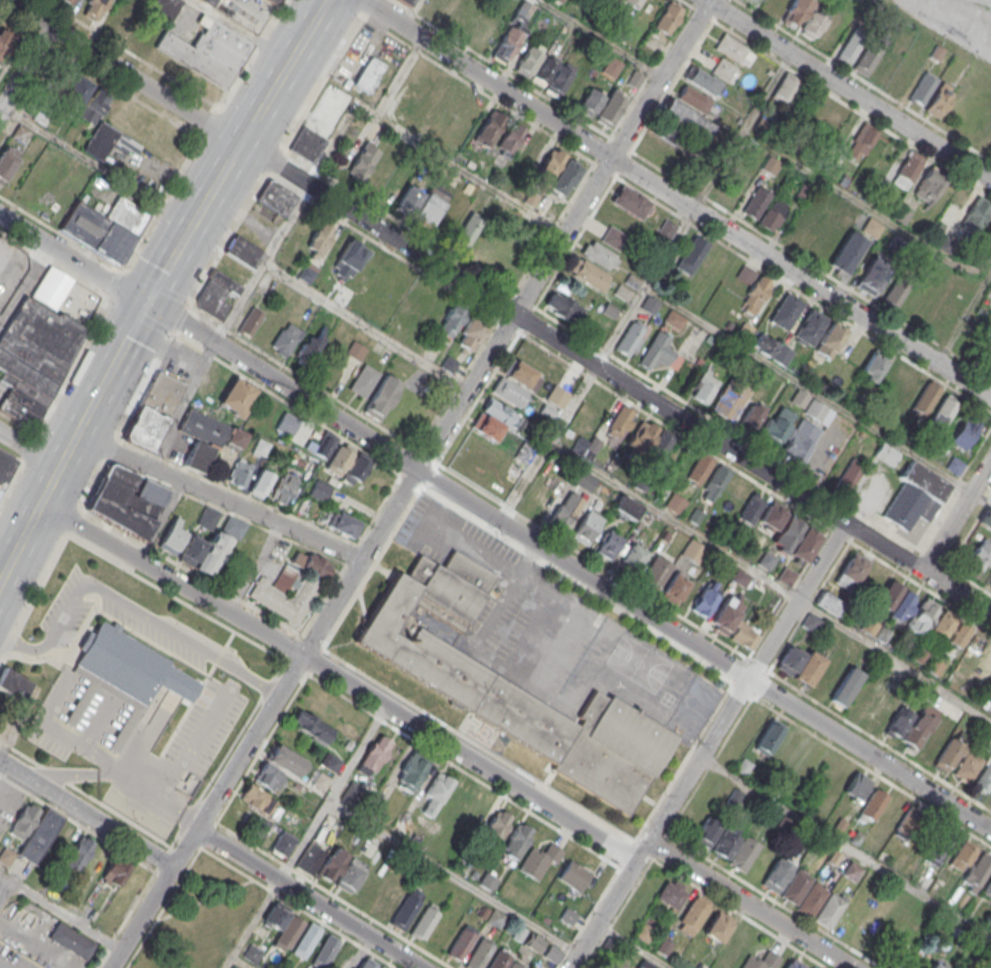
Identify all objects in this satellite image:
building: (210, 1)
building: (275, 1)
building: (613, 1)
building: (69, 2)
building: (405, 2)
building: (756, 2)
building: (632, 3)
building: (434, 6)
road: (367, 7)
building: (94, 9)
building: (165, 9)
building: (796, 12)
road: (410, 13)
building: (465, 15)
building: (667, 17)
building: (123, 19)
building: (813, 23)
road: (948, 26)
road: (242, 29)
building: (513, 31)
road: (599, 38)
building: (4, 41)
building: (851, 44)
building: (734, 50)
building: (208, 51)
building: (879, 58)
building: (528, 59)
building: (611, 66)
road: (25, 68)
building: (723, 68)
road: (283, 71)
road: (123, 72)
building: (368, 75)
building: (551, 76)
building: (703, 80)
building: (923, 87)
building: (787, 88)
road: (848, 89)
building: (74, 95)
building: (694, 98)
building: (410, 99)
building: (940, 99)
building: (589, 102)
building: (94, 105)
building: (610, 108)
building: (441, 111)
building: (687, 118)
building: (488, 129)
building: (19, 134)
building: (508, 140)
building: (107, 141)
building: (861, 141)
building: (307, 144)
road: (434, 151)
building: (7, 161)
road: (97, 165)
building: (548, 167)
building: (369, 168)
building: (908, 169)
building: (564, 177)
building: (931, 182)
building: (736, 185)
road: (676, 198)
building: (408, 199)
building: (273, 200)
building: (631, 202)
building: (756, 202)
building: (431, 204)
building: (976, 214)
building: (771, 215)
road: (193, 222)
building: (105, 227)
building: (872, 227)
building: (667, 228)
road: (898, 228)
building: (466, 231)
building: (614, 237)
building: (320, 239)
building: (822, 241)
building: (481, 246)
building: (242, 251)
building: (846, 253)
building: (599, 255)
building: (691, 255)
building: (350, 256)
building: (500, 256)
road: (72, 259)
road: (262, 264)
building: (307, 272)
building: (588, 274)
building: (872, 275)
building: (51, 287)
road: (644, 287)
building: (753, 289)
building: (896, 292)
building: (217, 294)
building: (343, 296)
traffic signals: (147, 303)
building: (563, 307)
building: (786, 311)
building: (674, 319)
road: (963, 319)
building: (250, 321)
building: (450, 322)
building: (810, 326)
road: (364, 328)
building: (471, 333)
building: (286, 338)
building: (631, 338)
building: (830, 339)
road: (124, 343)
building: (772, 348)
building: (308, 350)
building: (355, 350)
building: (660, 352)
building: (34, 358)
building: (874, 365)
building: (522, 375)
road: (616, 378)
building: (363, 380)
building: (903, 383)
building: (704, 386)
building: (509, 392)
building: (237, 396)
building: (382, 396)
building: (557, 396)
building: (926, 397)
building: (730, 399)
road: (182, 405)
building: (153, 410)
building: (944, 410)
building: (818, 411)
building: (752, 415)
building: (493, 419)
building: (620, 422)
building: (777, 425)
building: (203, 427)
building: (965, 431)
building: (642, 436)
building: (236, 438)
building: (800, 440)
building: (324, 443)
road: (549, 444)
building: (260, 447)
building: (590, 447)
road: (29, 450)
building: (886, 453)
building: (197, 456)
building: (348, 463)
building: (954, 465)
building: (5, 467)
building: (699, 469)
building: (240, 473)
building: (850, 474)
road: (10, 479)
road: (50, 482)
building: (260, 483)
road: (408, 483)
building: (715, 483)
building: (283, 488)
building: (320, 490)
building: (916, 496)
road: (981, 496)
road: (218, 497)
building: (128, 500)
building: (675, 503)
building: (626, 507)
building: (751, 508)
building: (565, 510)
road: (956, 514)
building: (771, 516)
building: (208, 517)
building: (985, 517)
building: (343, 525)
building: (587, 527)
building: (786, 534)
building: (172, 536)
building: (609, 544)
building: (805, 544)
building: (210, 547)
building: (693, 550)
building: (980, 554)
building: (631, 557)
building: (765, 559)
road: (569, 566)
road: (254, 568)
building: (850, 571)
building: (656, 572)
building: (786, 576)
building: (740, 577)
road: (770, 581)
building: (290, 587)
building: (675, 587)
building: (705, 598)
building: (895, 601)
building: (829, 603)
road: (129, 608)
building: (922, 616)
building: (733, 622)
building: (811, 622)
building: (950, 628)
building: (875, 629)
parking lot: (552, 633)
road: (322, 646)
building: (927, 660)
building: (985, 661)
building: (808, 669)
building: (124, 674)
road: (339, 679)
building: (14, 684)
building: (509, 685)
building: (846, 687)
road: (742, 689)
building: (864, 699)
building: (883, 710)
road: (389, 725)
building: (898, 725)
building: (311, 726)
building: (920, 726)
building: (769, 736)
road: (194, 743)
road: (707, 745)
building: (376, 753)
building: (948, 756)
building: (329, 761)
building: (278, 767)
building: (967, 767)
road: (123, 773)
building: (410, 773)
building: (984, 778)
building: (320, 781)
building: (856, 785)
road: (8, 788)
building: (352, 792)
building: (436, 794)
building: (259, 800)
building: (872, 805)
road: (86, 813)
building: (24, 820)
building: (910, 822)
building: (261, 826)
building: (495, 827)
building: (707, 831)
road: (309, 833)
building: (40, 835)
building: (516, 840)
building: (728, 842)
building: (283, 844)
building: (939, 845)
road: (845, 847)
building: (964, 852)
road: (626, 853)
building: (77, 855)
building: (744, 855)
building: (310, 860)
building: (539, 861)
building: (332, 864)
road: (238, 870)
building: (852, 871)
building: (114, 872)
building: (977, 873)
building: (350, 875)
building: (574, 875)
building: (777, 876)
road: (453, 878)
road: (6, 884)
road: (320, 888)
building: (796, 888)
building: (987, 889)
building: (671, 893)
road: (310, 898)
building: (812, 900)
building: (907, 903)
road: (750, 904)
building: (405, 909)
building: (829, 911)
building: (695, 913)
road: (64, 915)
road: (588, 918)
building: (425, 923)
building: (283, 926)
building: (718, 926)
building: (645, 929)
building: (442, 933)
building: (71, 940)
building: (306, 940)
building: (533, 942)
road: (36, 945)
building: (460, 945)
road: (634, 945)
building: (732, 949)
building: (325, 951)
building: (553, 953)
building: (252, 954)
building: (479, 955)
building: (499, 961)
building: (763, 961)
building: (987, 961)
road: (228, 963)
road: (238, 963)
building: (794, 963)
building: (646, 964)
building: (516, 965)
building: (937, 965)
building: (954, 966)
road: (1, 967)
building: (381, 967)

